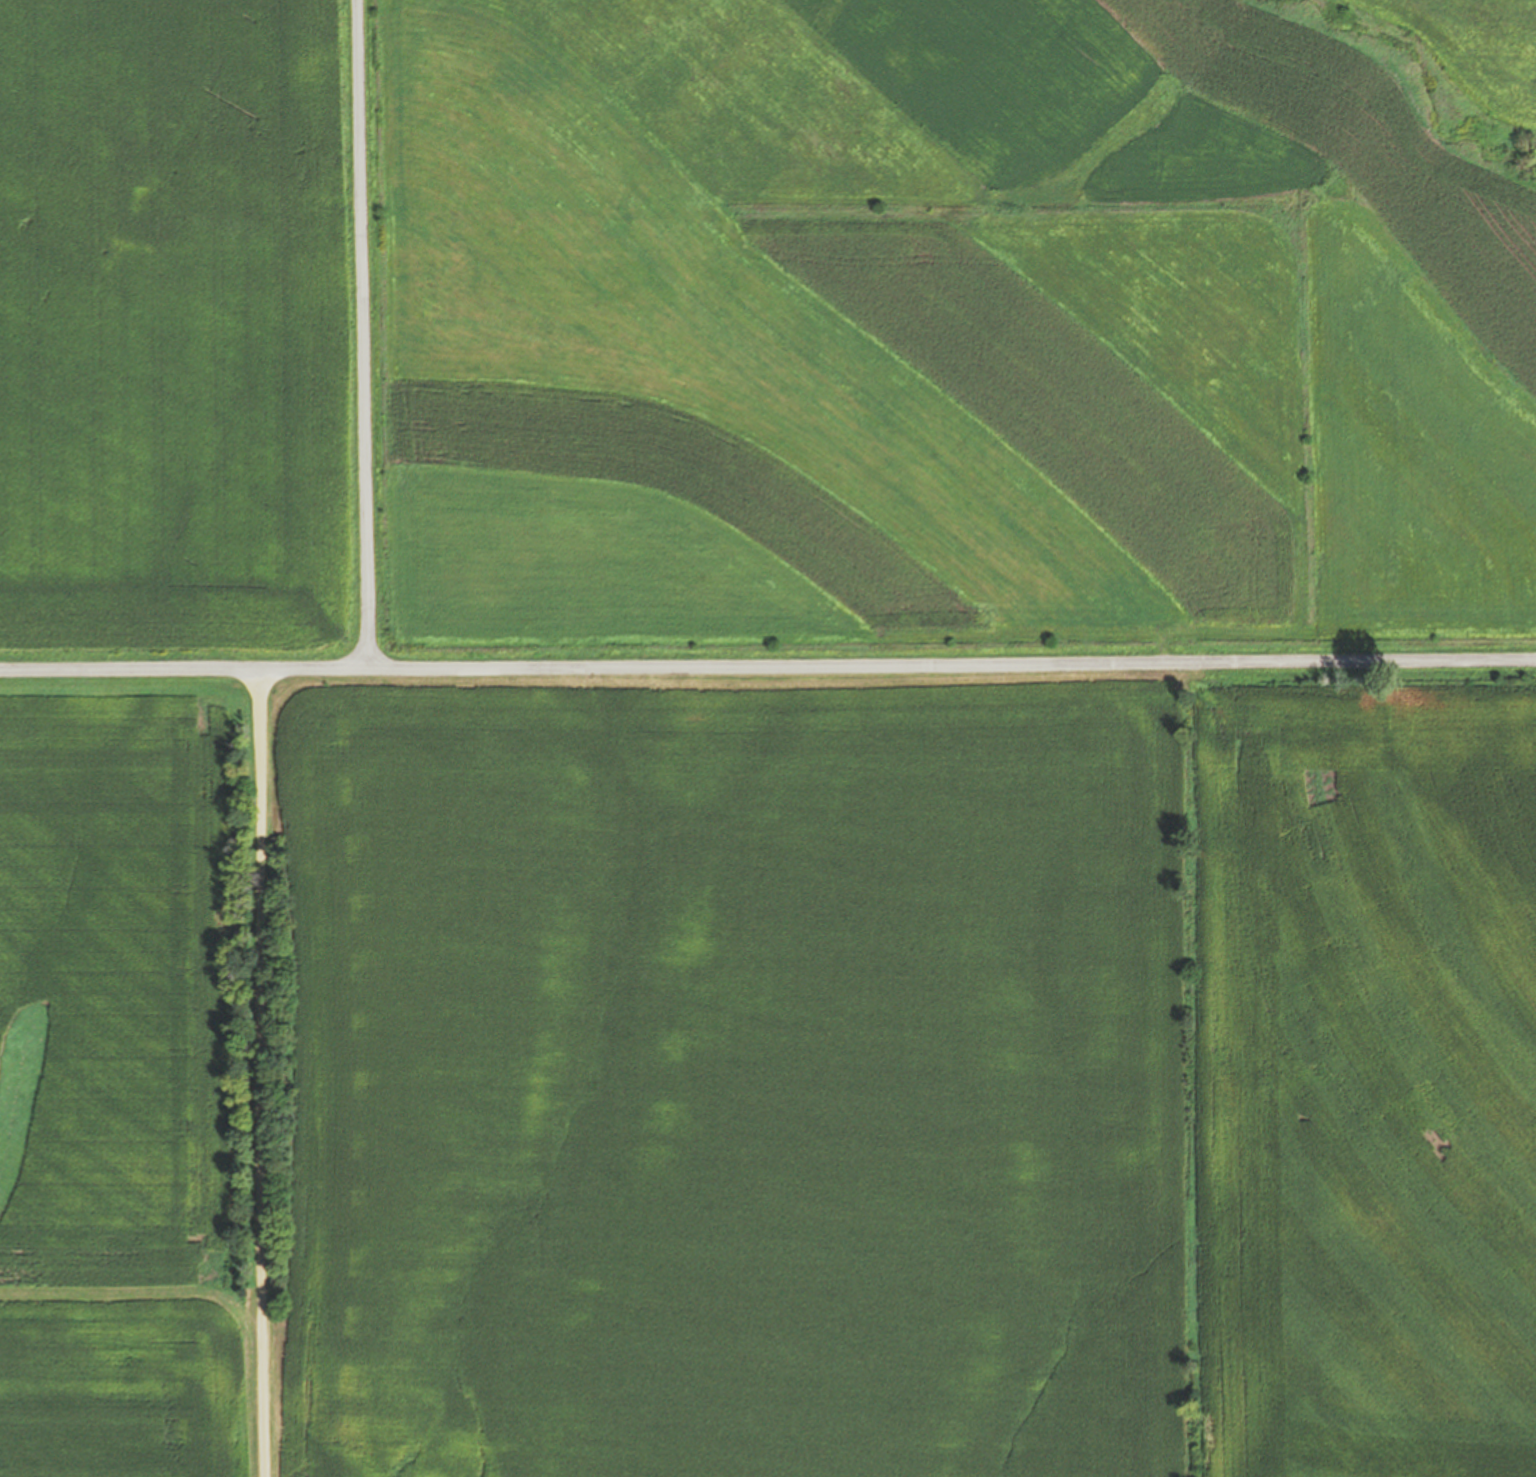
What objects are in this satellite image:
road: (366, 335)
road: (768, 668)
road: (265, 1074)

